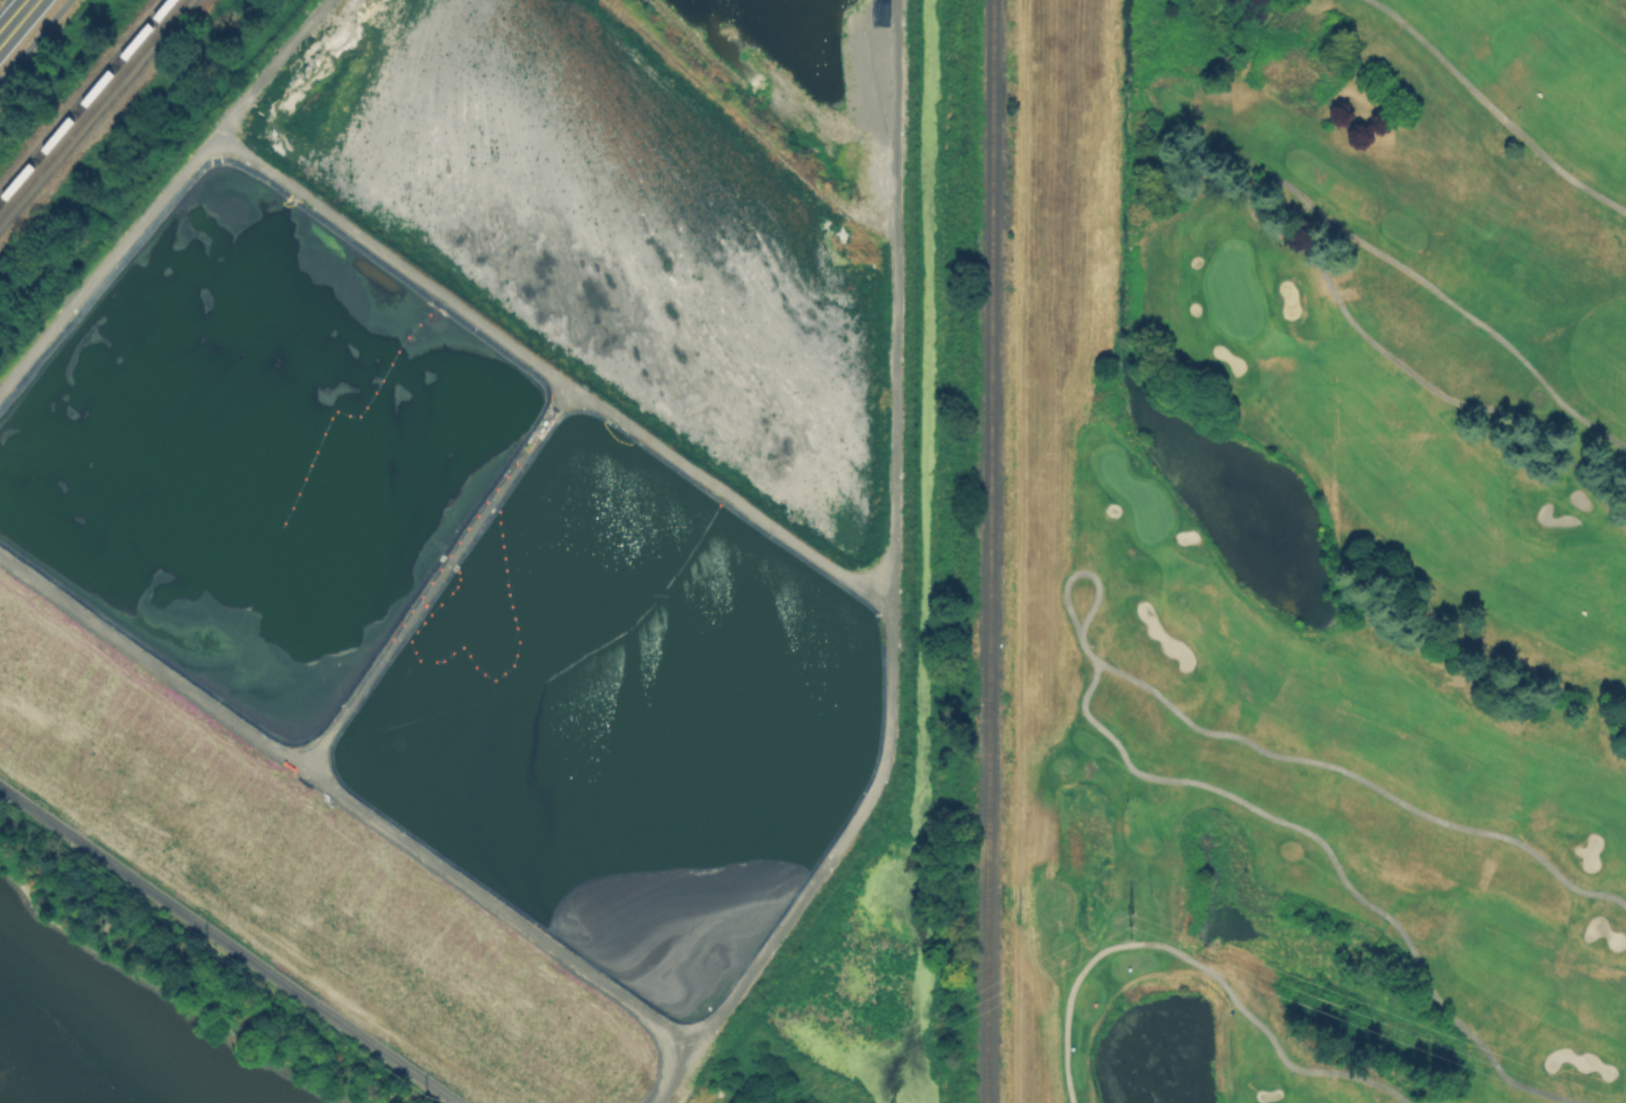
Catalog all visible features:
road: (15, 19)
road: (34, 39)
railway: (84, 99)
railway: (91, 106)
road: (1496, 110)
road: (1258, 215)
wastewater plant: (484, 515)
railway: (988, 551)
road: (1018, 551)
park: (1332, 551)
road: (1080, 570)
road: (1347, 771)
road: (1337, 865)
road: (228, 943)
road: (1198, 962)

